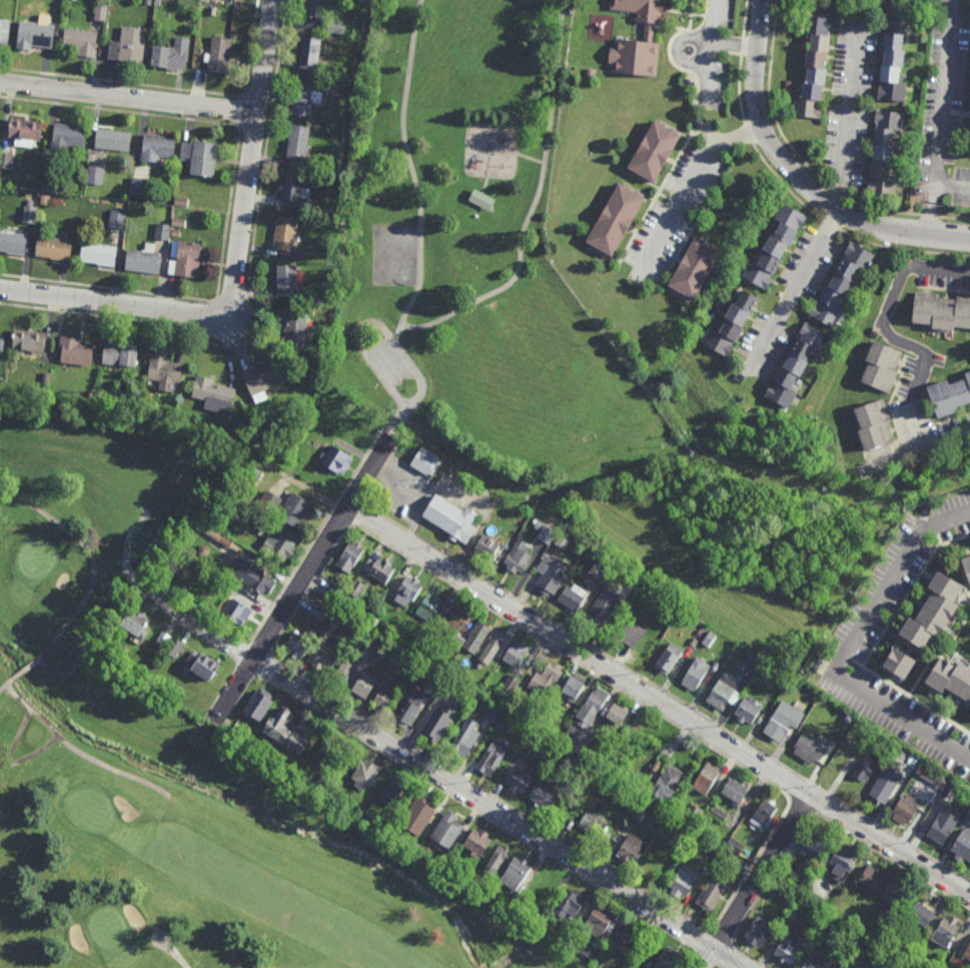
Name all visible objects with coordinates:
building: (911, 0)
building: (147, 2)
building: (157, 2)
building: (315, 9)
building: (211, 11)
building: (100, 12)
building: (336, 26)
building: (648, 31)
building: (4, 33)
building: (34, 37)
road: (961, 37)
building: (363, 42)
building: (80, 43)
road: (711, 44)
building: (127, 47)
road: (700, 48)
building: (803, 48)
building: (797, 51)
building: (219, 55)
building: (309, 55)
building: (170, 56)
building: (893, 58)
building: (812, 67)
road: (708, 72)
building: (589, 73)
building: (788, 83)
road: (129, 97)
building: (784, 100)
building: (304, 101)
building: (789, 101)
building: (916, 103)
parking lot: (943, 106)
road: (957, 114)
road: (944, 117)
road: (851, 119)
building: (907, 120)
building: (24, 131)
building: (67, 137)
building: (112, 141)
building: (297, 144)
building: (156, 148)
building: (653, 151)
road: (497, 152)
building: (883, 153)
building: (198, 158)
building: (897, 160)
building: (5, 161)
building: (335, 168)
road: (411, 171)
building: (94, 176)
road: (796, 177)
building: (905, 182)
road: (954, 182)
building: (44, 186)
building: (138, 187)
road: (690, 188)
building: (293, 193)
building: (45, 200)
building: (479, 200)
building: (181, 201)
road: (535, 203)
building: (29, 211)
road: (955, 217)
building: (117, 218)
building: (201, 218)
building: (614, 218)
building: (178, 222)
building: (338, 223)
building: (162, 230)
building: (175, 232)
building: (284, 235)
building: (12, 244)
building: (774, 246)
building: (53, 248)
park: (479, 254)
building: (97, 255)
park: (395, 257)
building: (142, 261)
building: (187, 261)
building: (693, 267)
road: (238, 271)
building: (285, 282)
building: (840, 283)
road: (794, 293)
road: (193, 298)
building: (305, 299)
building: (315, 300)
building: (725, 300)
road: (252, 301)
building: (941, 312)
road: (367, 322)
building: (732, 323)
building: (710, 324)
building: (294, 331)
building: (28, 341)
building: (1, 343)
road: (912, 347)
building: (74, 352)
building: (117, 355)
park: (534, 360)
building: (317, 361)
parking lot: (391, 365)
building: (794, 365)
building: (163, 367)
building: (881, 368)
building: (799, 381)
building: (813, 381)
building: (261, 382)
building: (98, 396)
building: (213, 397)
building: (950, 397)
road: (403, 419)
building: (873, 426)
building: (311, 430)
road: (388, 439)
building: (230, 441)
building: (256, 446)
building: (336, 462)
building: (425, 462)
road: (380, 473)
building: (257, 474)
road: (353, 494)
building: (270, 501)
building: (232, 508)
building: (294, 511)
road: (355, 511)
road: (340, 516)
building: (450, 519)
building: (546, 534)
road: (315, 537)
building: (220, 538)
building: (280, 545)
building: (488, 547)
building: (204, 550)
building: (349, 557)
building: (517, 557)
building: (966, 567)
road: (961, 568)
building: (381, 571)
building: (551, 575)
road: (94, 578)
road: (305, 578)
building: (259, 583)
road: (310, 588)
building: (357, 589)
building: (408, 591)
building: (335, 592)
road: (908, 592)
building: (573, 598)
building: (430, 607)
building: (602, 608)
building: (936, 610)
building: (320, 611)
building: (237, 613)
building: (457, 621)
building: (335, 622)
building: (135, 624)
building: (623, 630)
building: (428, 636)
building: (475, 638)
building: (163, 639)
road: (952, 642)
building: (457, 643)
building: (297, 645)
building: (377, 645)
road: (848, 647)
road: (261, 648)
building: (491, 648)
building: (173, 649)
building: (515, 654)
road: (568, 657)
building: (669, 658)
building: (325, 660)
building: (901, 662)
building: (396, 663)
building: (479, 665)
road: (266, 666)
building: (204, 668)
road: (926, 669)
building: (343, 673)
building: (695, 674)
building: (952, 677)
building: (547, 678)
building: (200, 684)
building: (511, 684)
building: (364, 685)
building: (432, 687)
building: (164, 690)
building: (571, 690)
road: (666, 691)
building: (505, 693)
building: (723, 694)
building: (174, 696)
road: (910, 696)
building: (385, 698)
road: (658, 702)
building: (540, 705)
building: (257, 707)
building: (407, 708)
building: (591, 709)
building: (747, 711)
building: (492, 713)
building: (617, 715)
building: (506, 722)
building: (783, 723)
building: (434, 727)
building: (285, 732)
road: (16, 740)
building: (464, 741)
building: (574, 741)
building: (529, 744)
road: (73, 746)
park: (175, 746)
building: (808, 749)
building: (327, 753)
road: (32, 755)
building: (491, 757)
building: (602, 760)
building: (665, 761)
building: (570, 763)
building: (865, 769)
building: (365, 774)
road: (448, 776)
building: (931, 776)
building: (707, 778)
building: (322, 781)
building: (519, 781)
building: (666, 783)
building: (377, 784)
building: (885, 784)
building: (618, 791)
building: (640, 791)
building: (328, 792)
building: (392, 792)
building: (735, 792)
road: (489, 793)
building: (542, 794)
building: (593, 794)
road: (801, 801)
building: (561, 808)
building: (580, 809)
building: (904, 810)
building: (969, 812)
road: (478, 813)
building: (638, 813)
building: (718, 813)
building: (691, 814)
building: (763, 815)
building: (371, 816)
building: (417, 816)
building: (386, 821)
building: (594, 825)
building: (943, 829)
building: (446, 831)
building: (684, 832)
building: (477, 842)
building: (734, 844)
building: (815, 844)
building: (963, 846)
building: (427, 847)
building: (630, 850)
road: (893, 859)
building: (731, 860)
building: (841, 860)
building: (495, 861)
road: (753, 863)
building: (656, 864)
building: (803, 864)
road: (760, 871)
building: (515, 874)
road: (769, 874)
building: (471, 878)
building: (870, 880)
building: (682, 882)
building: (813, 883)
building: (784, 887)
building: (483, 890)
building: (712, 892)
building: (894, 893)
building: (511, 900)
building: (569, 905)
building: (921, 915)
building: (857, 916)
building: (789, 920)
building: (598, 922)
building: (839, 928)
building: (945, 932)
building: (756, 933)
building: (620, 937)
road: (721, 937)
road: (701, 939)
building: (838, 941)
building: (790, 950)
building: (589, 951)
building: (967, 952)
building: (884, 954)
road: (172, 955)
road: (727, 955)
road: (752, 956)
road: (707, 958)
building: (668, 959)
building: (811, 960)
building: (848, 962)
road: (721, 967)

